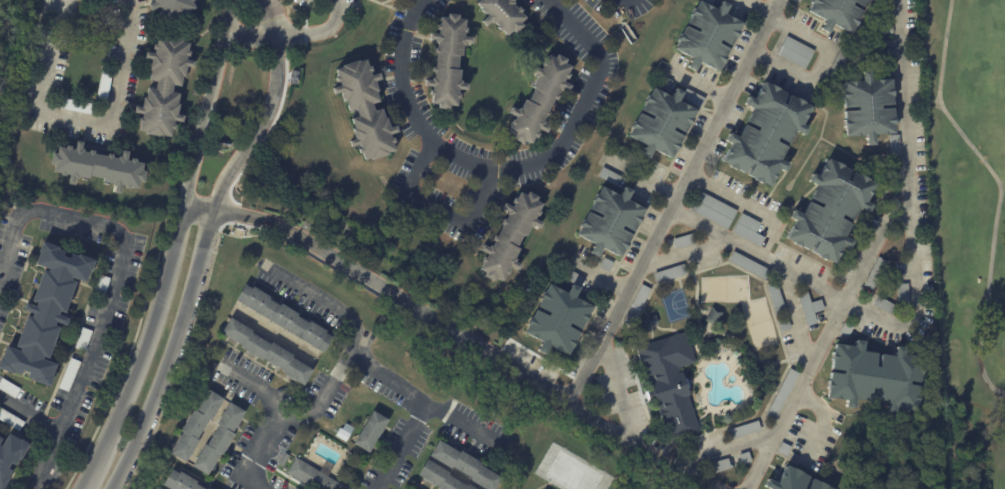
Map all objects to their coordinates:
building: (247, 0)
building: (709, 1)
building: (171, 8)
building: (837, 13)
building: (500, 15)
building: (885, 16)
road: (228, 18)
road: (271, 18)
road: (319, 32)
road: (251, 36)
building: (707, 36)
road: (828, 51)
building: (794, 52)
road: (277, 56)
building: (839, 60)
building: (445, 62)
building: (664, 83)
road: (697, 83)
building: (102, 87)
building: (163, 87)
building: (691, 97)
building: (537, 99)
building: (75, 106)
building: (866, 108)
building: (362, 110)
road: (80, 120)
building: (660, 123)
building: (765, 135)
building: (894, 145)
building: (622, 153)
building: (97, 168)
road: (506, 168)
road: (691, 169)
building: (609, 177)
road: (642, 179)
road: (1000, 192)
road: (735, 199)
road: (440, 207)
building: (712, 210)
building: (830, 212)
building: (609, 222)
park: (967, 228)
building: (868, 229)
building: (747, 230)
building: (509, 235)
building: (683, 241)
road: (174, 250)
road: (123, 251)
road: (686, 253)
building: (605, 265)
building: (749, 266)
building: (875, 273)
building: (669, 274)
road: (598, 275)
building: (572, 277)
road: (196, 281)
building: (101, 286)
road: (917, 293)
building: (902, 295)
building: (776, 300)
road: (410, 302)
park: (675, 305)
building: (636, 306)
building: (885, 306)
building: (809, 309)
building: (45, 314)
road: (793, 314)
building: (282, 317)
building: (712, 317)
building: (557, 320)
building: (649, 321)
park: (758, 322)
building: (783, 325)
building: (846, 330)
building: (83, 339)
road: (822, 343)
park: (1003, 345)
building: (265, 349)
road: (370, 367)
building: (68, 375)
building: (874, 378)
building: (669, 381)
building: (8, 388)
road: (618, 388)
road: (325, 390)
building: (781, 395)
road: (29, 415)
road: (590, 417)
building: (10, 420)
road: (278, 421)
road: (461, 422)
road: (821, 422)
building: (194, 426)
building: (369, 431)
building: (744, 431)
building: (343, 432)
building: (216, 438)
building: (0, 439)
building: (782, 448)
road: (725, 450)
building: (10, 456)
building: (743, 457)
building: (282, 459)
road: (45, 460)
road: (671, 462)
building: (463, 465)
building: (717, 466)
road: (90, 473)
park: (571, 473)
building: (309, 475)
building: (442, 476)
building: (788, 480)
building: (177, 481)
building: (816, 485)
building: (205, 488)
building: (407, 488)

